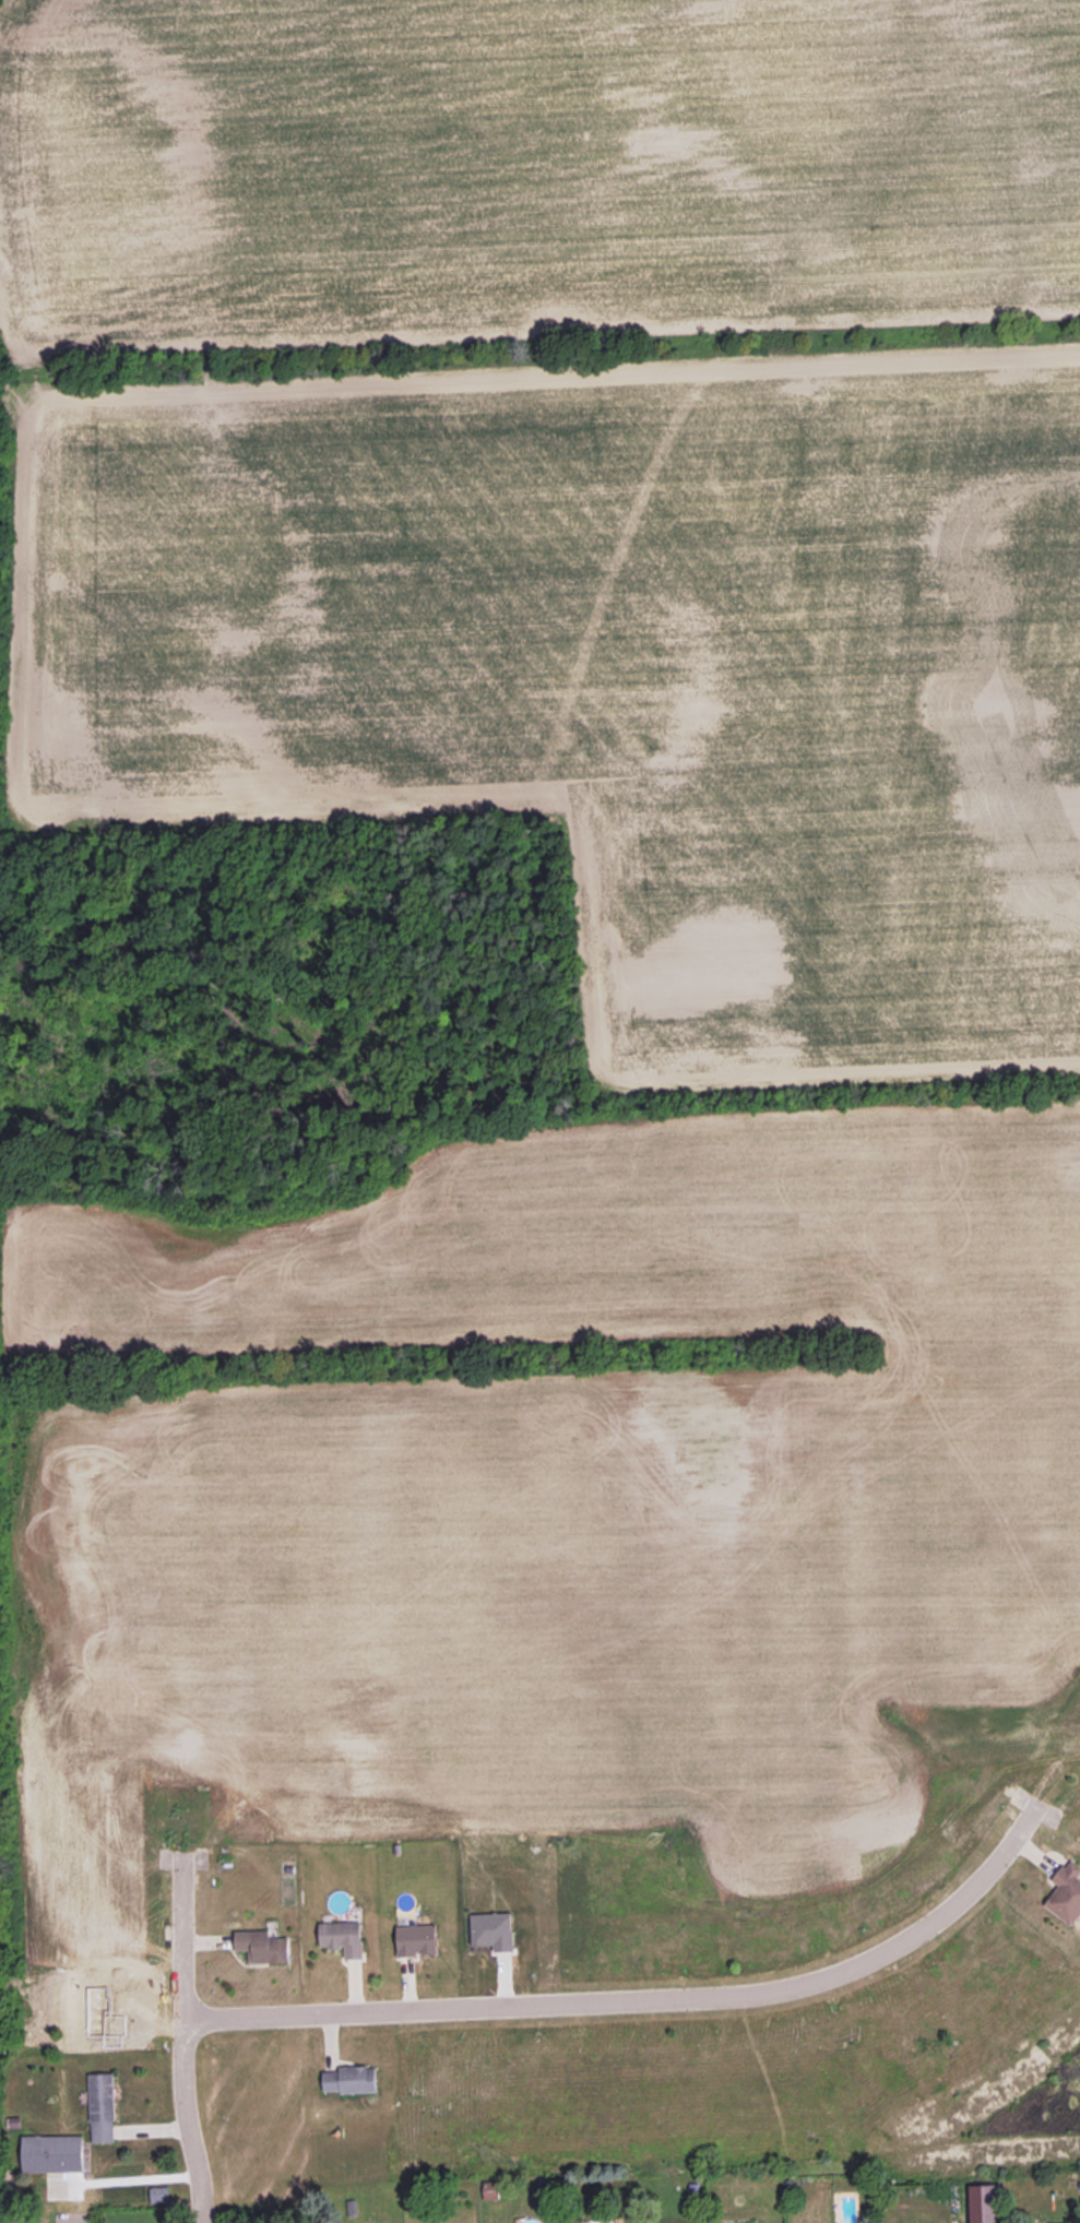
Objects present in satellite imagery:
building: (1066, 1892)
building: (492, 1930)
building: (342, 1937)
building: (416, 1939)
building: (262, 1946)
road: (637, 1993)
road: (177, 2038)
building: (349, 2079)
building: (102, 2107)
building: (54, 2154)
building: (490, 2189)
building: (159, 2195)
building: (1064, 2222)

